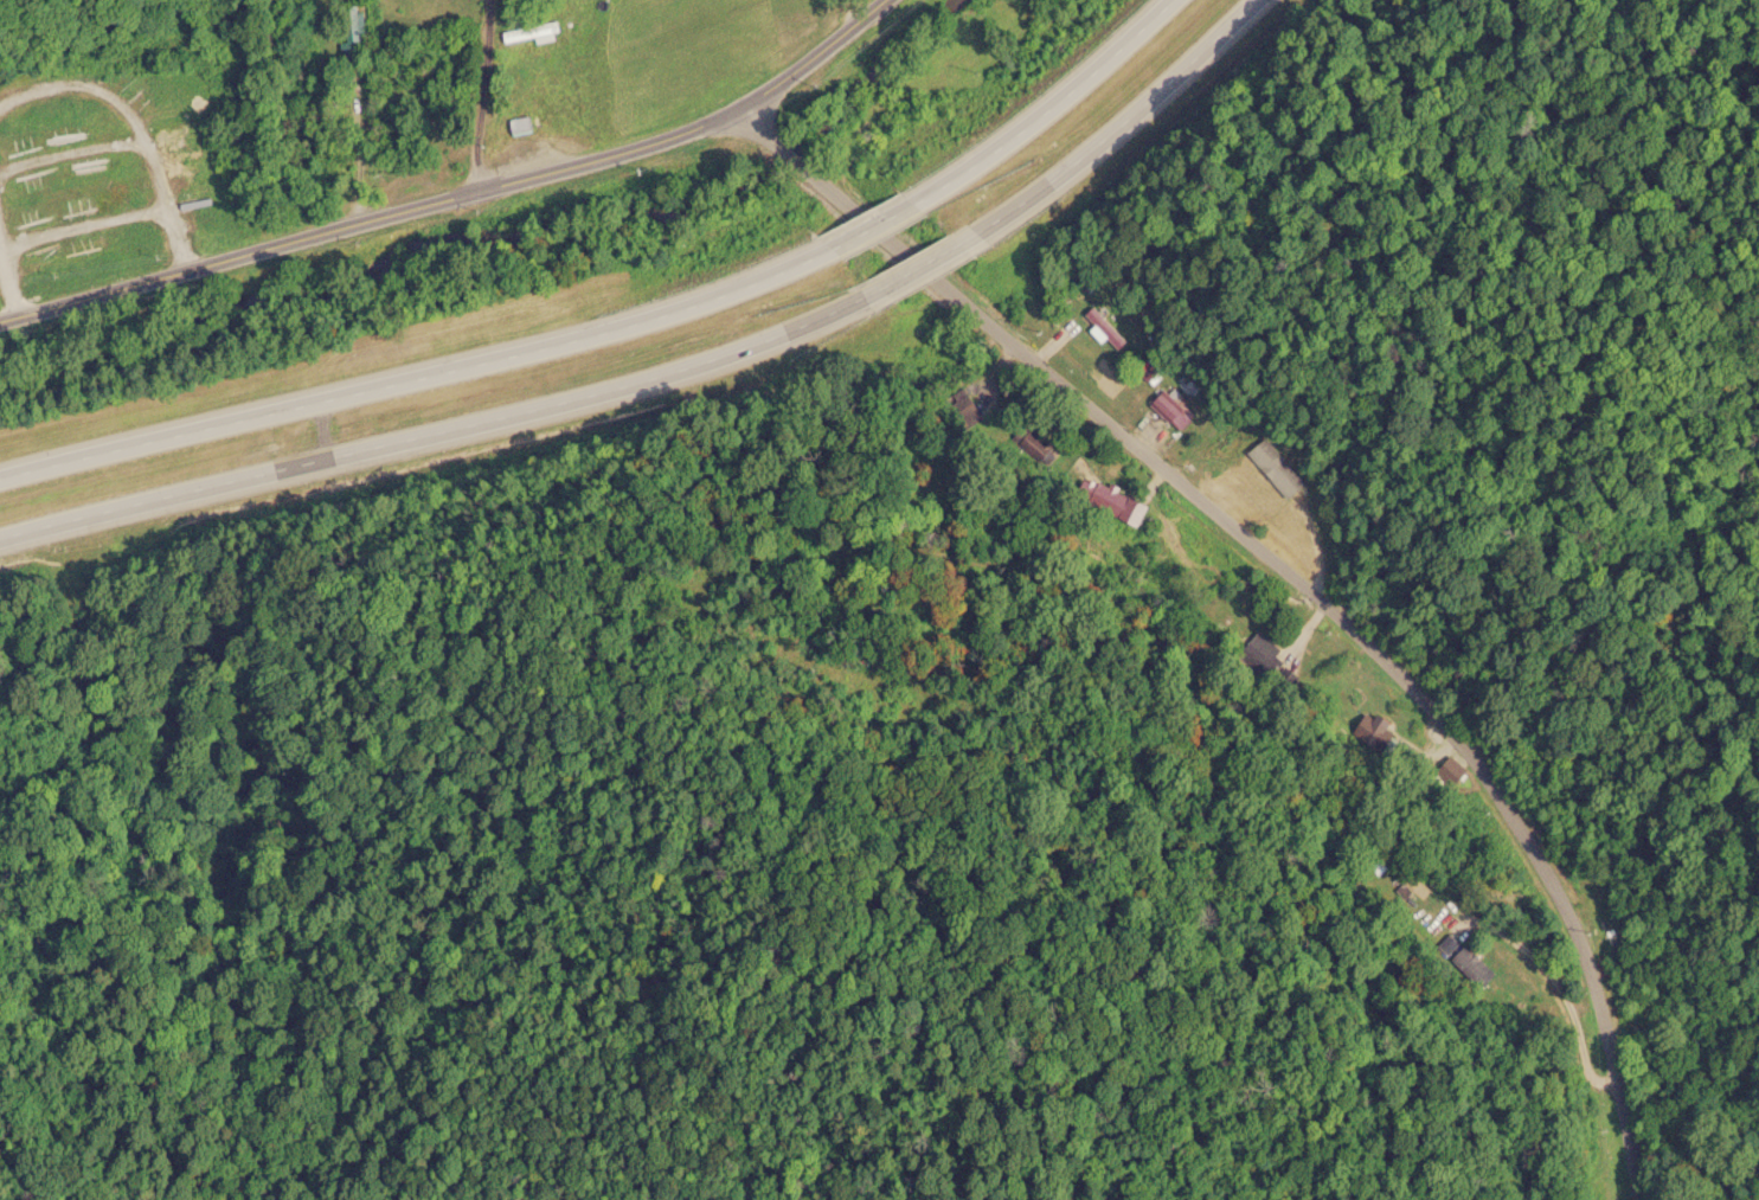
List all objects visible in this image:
building: (527, 32)
building: (357, 34)
road: (471, 95)
road: (1046, 108)
building: (525, 123)
road: (1115, 129)
road: (458, 195)
road: (877, 223)
road: (919, 268)
road: (421, 372)
building: (1168, 406)
road: (441, 428)
building: (1031, 439)
building: (1115, 502)
building: (1305, 546)
road: (1293, 584)
building: (1450, 769)
building: (1464, 960)

